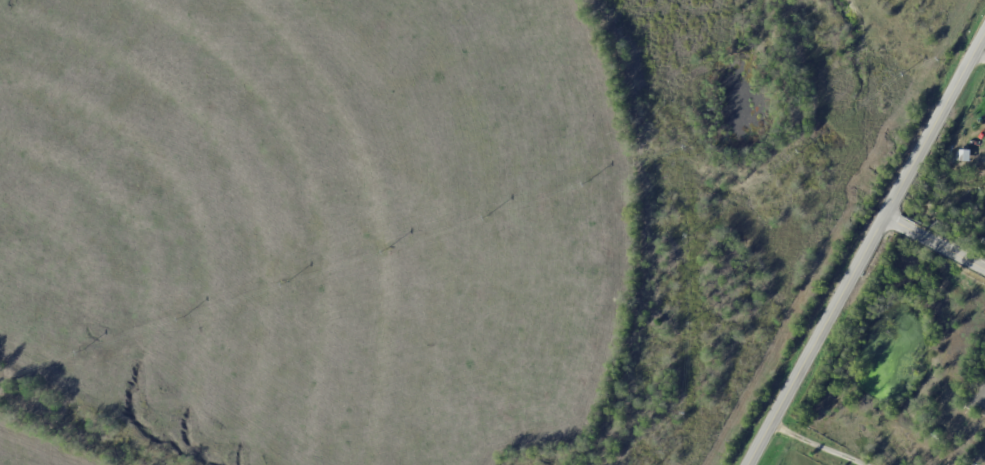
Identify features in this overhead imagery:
road: (934, 245)
road: (866, 248)
building: (980, 398)
building: (970, 429)
road: (817, 445)

